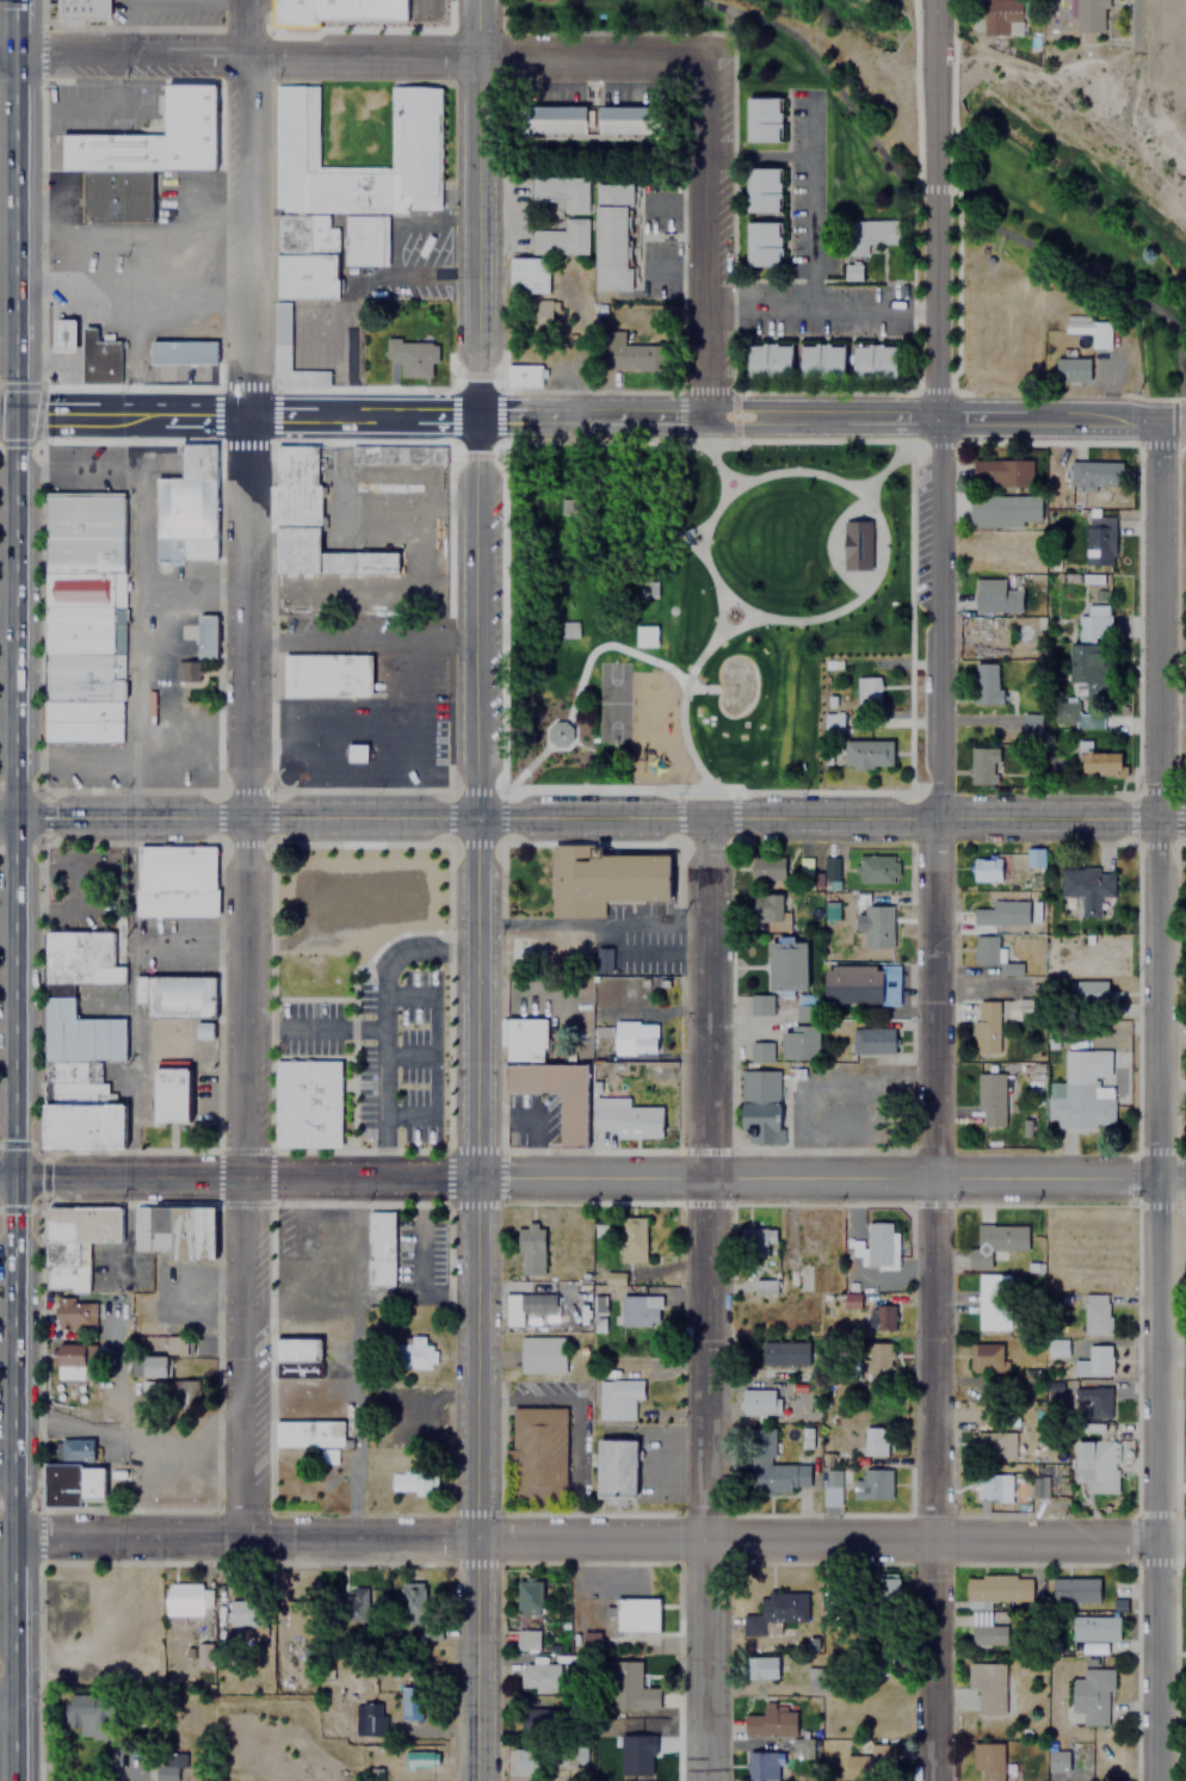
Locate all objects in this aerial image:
building: (81, 10)
building: (339, 11)
building: (1089, 14)
building: (1002, 17)
road: (6, 55)
road: (358, 56)
building: (764, 118)
building: (557, 119)
building: (631, 119)
building: (154, 137)
park: (940, 153)
building: (346, 187)
building: (762, 190)
building: (561, 191)
road: (966, 193)
building: (117, 196)
road: (12, 206)
road: (242, 206)
road: (481, 206)
road: (934, 209)
building: (869, 233)
building: (612, 236)
building: (561, 237)
road: (708, 237)
building: (762, 243)
building: (852, 271)
building: (527, 274)
road: (822, 313)
building: (537, 316)
building: (1089, 329)
building: (64, 335)
gas station: (64, 335)
building: (280, 335)
building: (183, 351)
building: (413, 357)
building: (98, 358)
building: (768, 360)
building: (822, 360)
building: (875, 360)
building: (1071, 370)
building: (523, 376)
road: (7, 413)
traffic signals: (14, 414)
road: (74, 414)
road: (185, 414)
road: (711, 416)
road: (708, 446)
building: (394, 452)
road: (896, 457)
building: (1002, 472)
road: (722, 474)
building: (1094, 474)
building: (187, 508)
building: (1005, 511)
building: (309, 520)
building: (1099, 539)
building: (851, 546)
road: (879, 548)
building: (1094, 586)
building: (73, 587)
building: (995, 595)
park: (693, 602)
road: (716, 612)
road: (480, 614)
building: (205, 636)
building: (644, 636)
building: (1085, 664)
building: (187, 670)
building: (326, 675)
road: (687, 680)
building: (989, 688)
building: (865, 689)
park: (611, 701)
building: (1027, 723)
building: (867, 754)
building: (1095, 760)
building: (983, 765)
road: (704, 790)
road: (600, 817)
road: (7, 818)
building: (1034, 857)
road: (16, 861)
building: (877, 868)
building: (986, 870)
building: (604, 879)
building: (174, 882)
building: (1086, 886)
building: (362, 898)
building: (771, 909)
building: (832, 910)
building: (1001, 914)
building: (877, 927)
building: (525, 948)
building: (986, 950)
building: (80, 958)
building: (605, 959)
building: (786, 965)
road: (243, 976)
building: (861, 984)
building: (1091, 992)
building: (175, 995)
building: (760, 1004)
building: (986, 1026)
building: (803, 1032)
building: (634, 1040)
building: (871, 1041)
building: (546, 1078)
building: (79, 1080)
building: (1081, 1093)
building: (172, 1096)
building: (760, 1100)
road: (934, 1100)
building: (989, 1100)
road: (1155, 1101)
building: (307, 1105)
building: (625, 1119)
road: (10, 1176)
road: (1170, 1176)
traffic signals: (19, 1177)
building: (174, 1231)
building: (631, 1241)
building: (756, 1241)
building: (995, 1242)
building: (75, 1243)
building: (877, 1243)
building: (379, 1248)
building: (530, 1250)
building: (319, 1278)
building: (617, 1278)
building: (767, 1286)
road: (474, 1298)
road: (709, 1299)
building: (853, 1299)
building: (992, 1301)
building: (525, 1306)
building: (638, 1311)
building: (1094, 1313)
building: (74, 1315)
building: (875, 1317)
building: (414, 1353)
building: (69, 1355)
building: (542, 1355)
building: (783, 1355)
building: (878, 1355)
building: (296, 1356)
building: (984, 1358)
building: (1093, 1361)
building: (153, 1366)
building: (1185, 1386)
building: (168, 1392)
building: (798, 1395)
building: (617, 1398)
building: (758, 1402)
building: (1091, 1402)
building: (1005, 1420)
building: (308, 1434)
building: (873, 1441)
building: (995, 1445)
building: (75, 1448)
building: (538, 1453)
building: (773, 1464)
building: (1184, 1464)
building: (1095, 1465)
building: (616, 1470)
road: (8, 1477)
building: (409, 1482)
building: (872, 1483)
building: (70, 1484)
building: (999, 1488)
road: (585, 1539)
road: (18, 1545)
road: (8, 1563)
building: (996, 1588)
building: (1074, 1589)
building: (412, 1593)
building: (884, 1594)
building: (529, 1595)
building: (184, 1600)
building: (366, 1602)
building: (840, 1602)
building: (352, 1607)
building: (771, 1609)
building: (247, 1612)
building: (635, 1614)
building: (296, 1620)
building: (426, 1628)
building: (1093, 1628)
building: (984, 1631)
building: (526, 1638)
building: (762, 1666)
building: (538, 1676)
building: (815, 1680)
building: (626, 1682)
building: (986, 1686)
building: (1089, 1694)
road: (8, 1695)
building: (409, 1701)
building: (88, 1714)
building: (366, 1718)
building: (535, 1718)
building: (774, 1727)
building: (638, 1752)
building: (419, 1758)
building: (986, 1760)
building: (1056, 1760)
building: (527, 1761)
building: (762, 1765)
building: (166, 1769)

